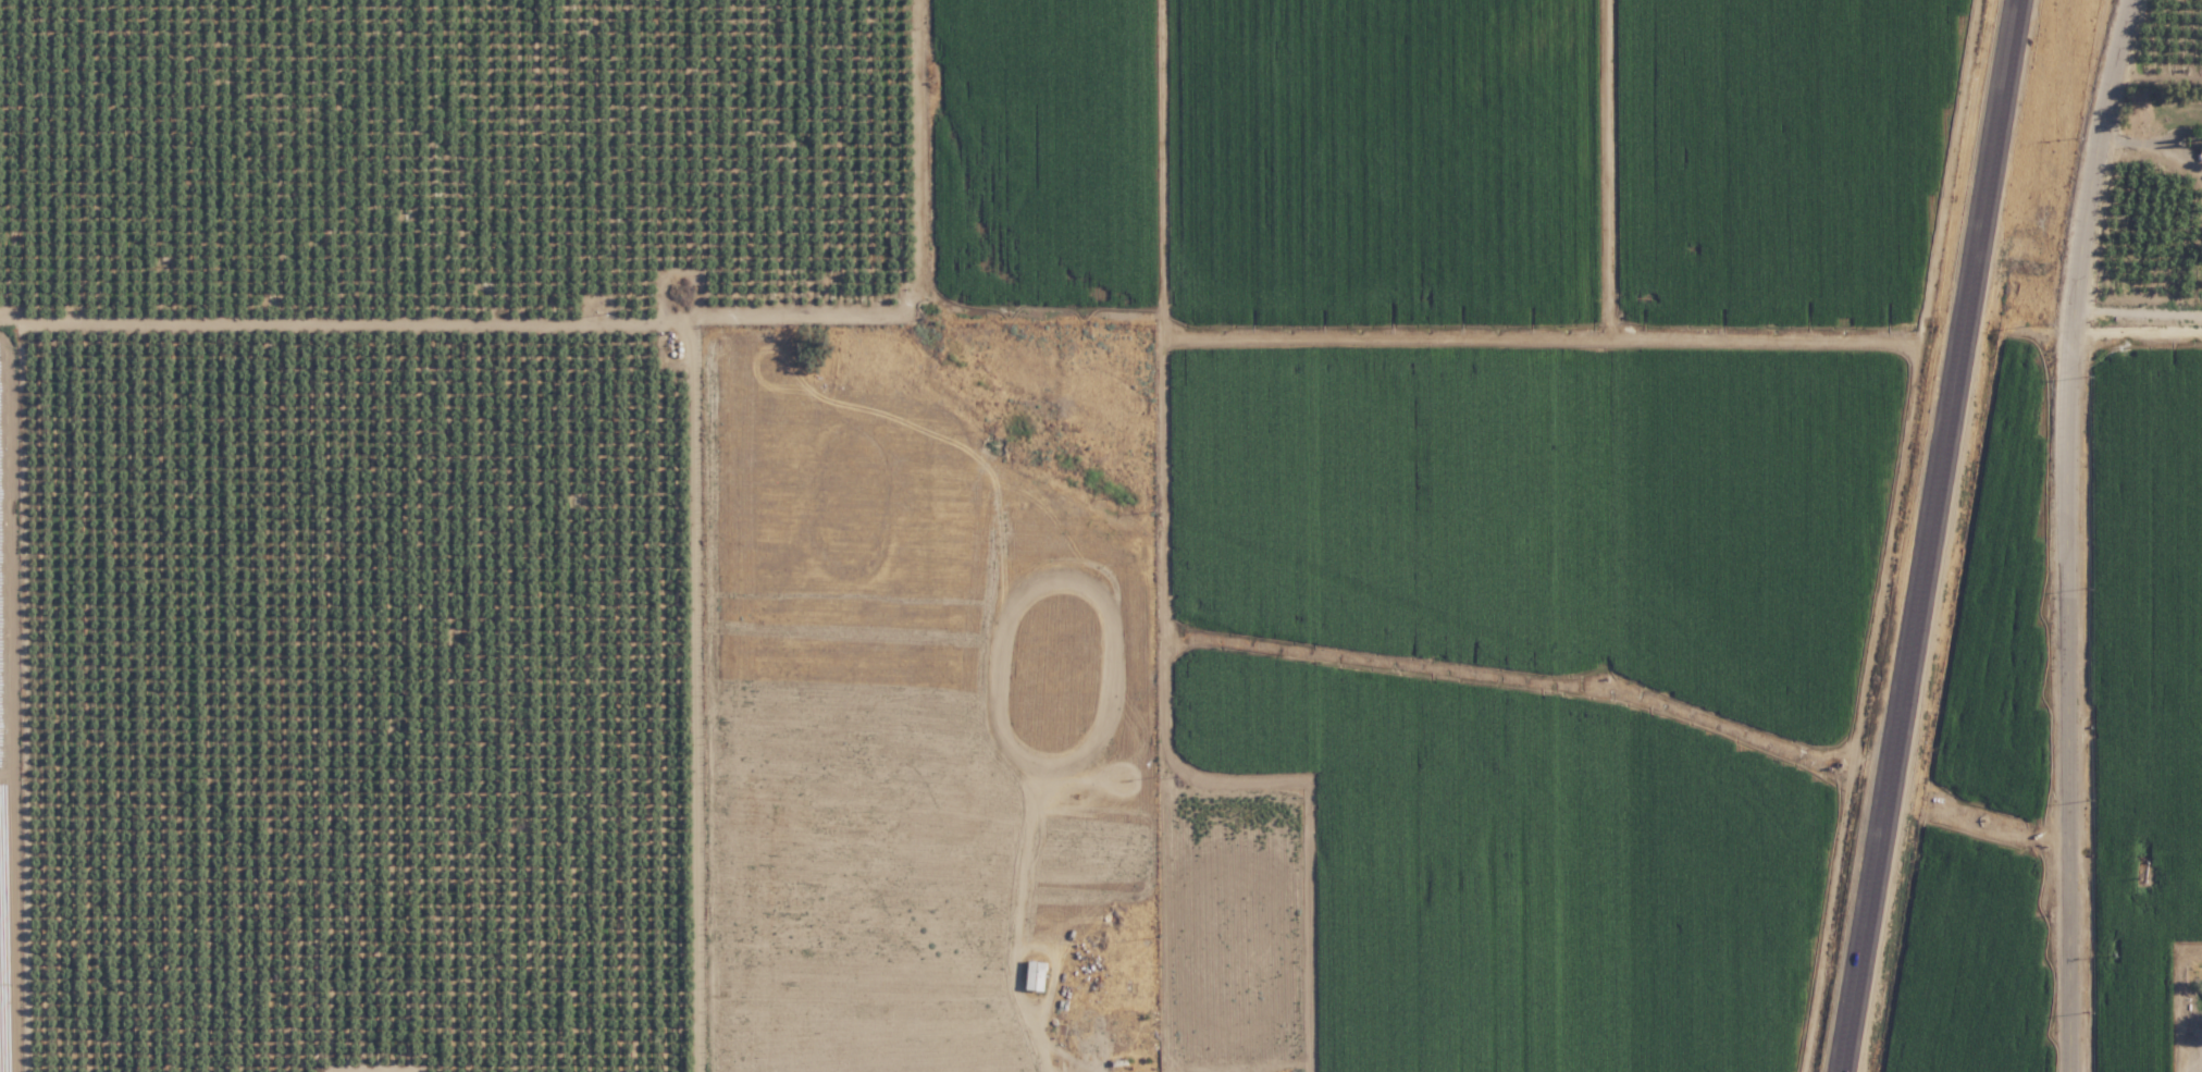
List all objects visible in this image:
road: (2126, 67)
crop: (1044, 158)
road: (2137, 304)
crop: (397, 500)
road: (1931, 535)
crop: (1360, 553)
road: (2073, 602)
crop: (2147, 717)
crop: (10, 729)

